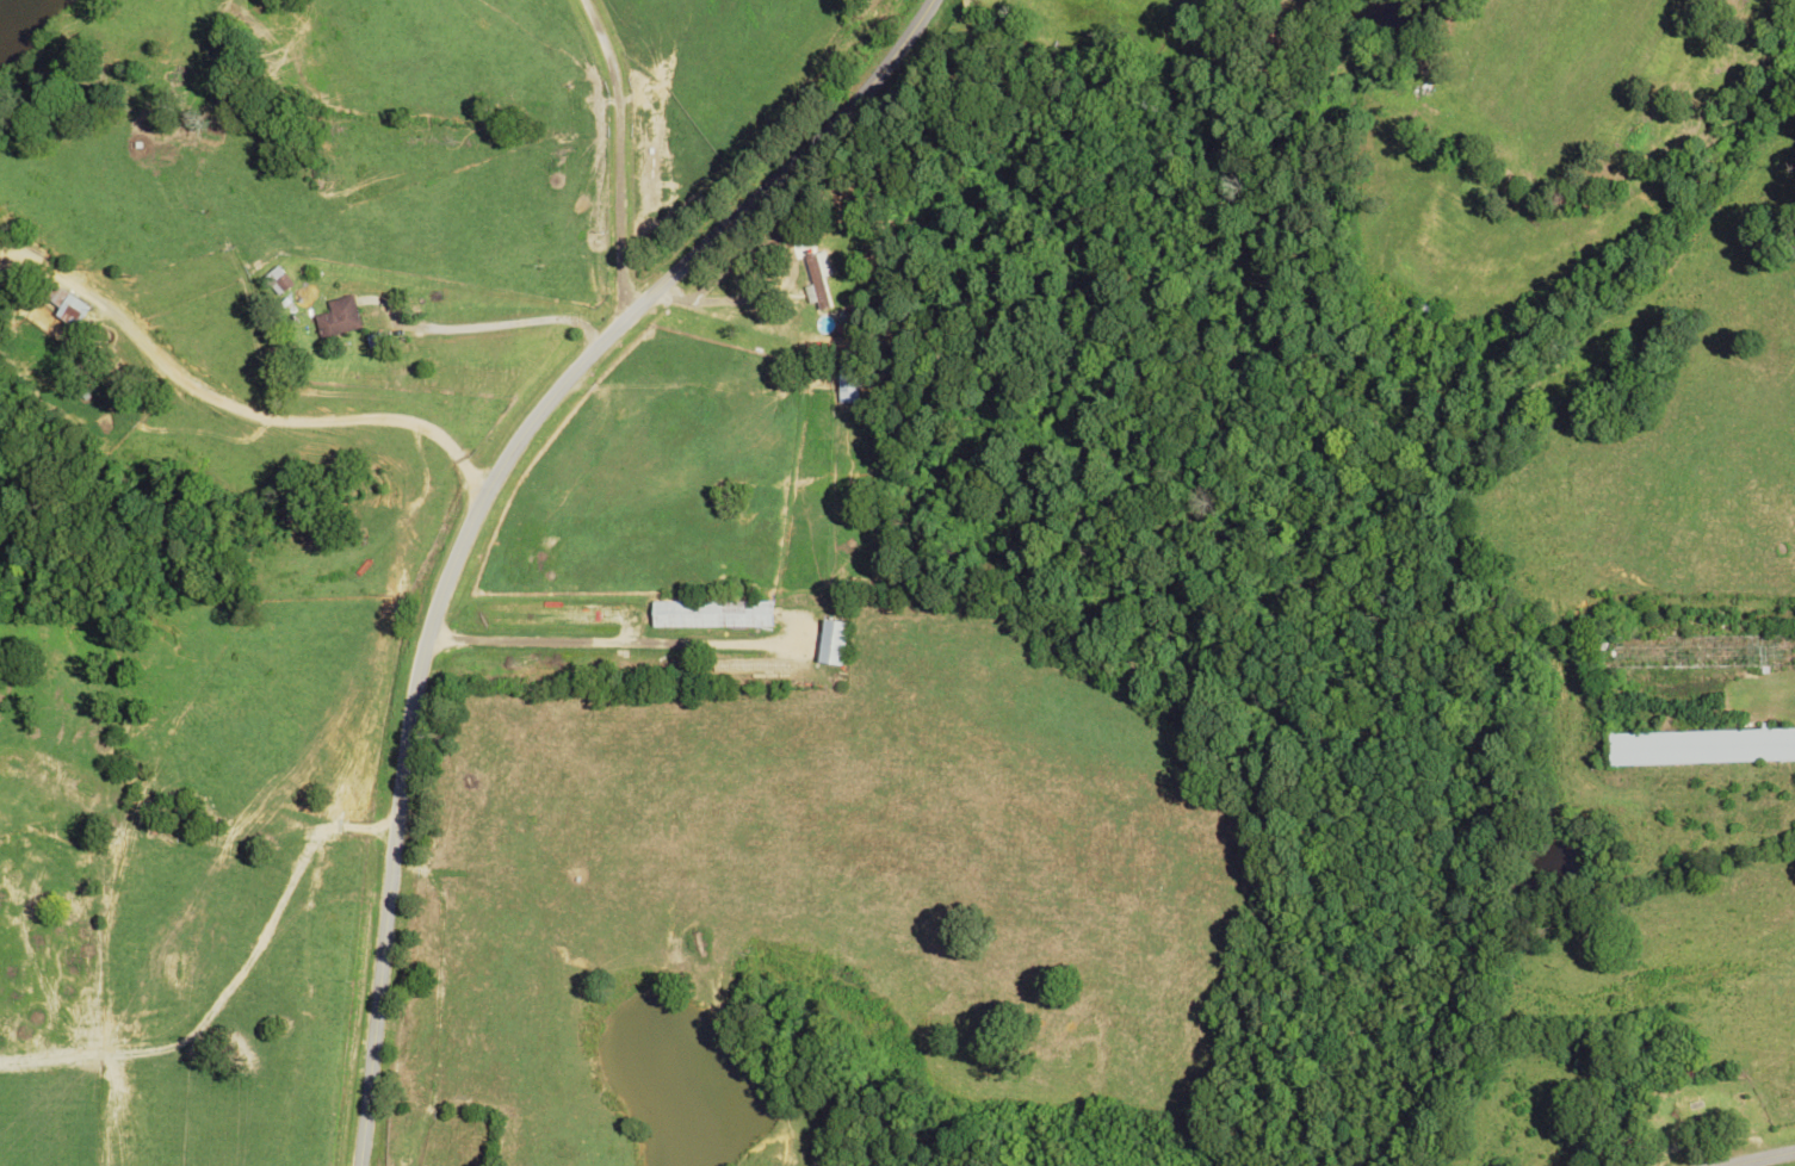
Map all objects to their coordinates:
road: (618, 155)
building: (817, 279)
building: (276, 281)
building: (62, 308)
building: (335, 318)
building: (844, 378)
road: (477, 502)
building: (708, 616)
building: (830, 644)
building: (1698, 652)
building: (1700, 748)
road: (1760, 1158)

